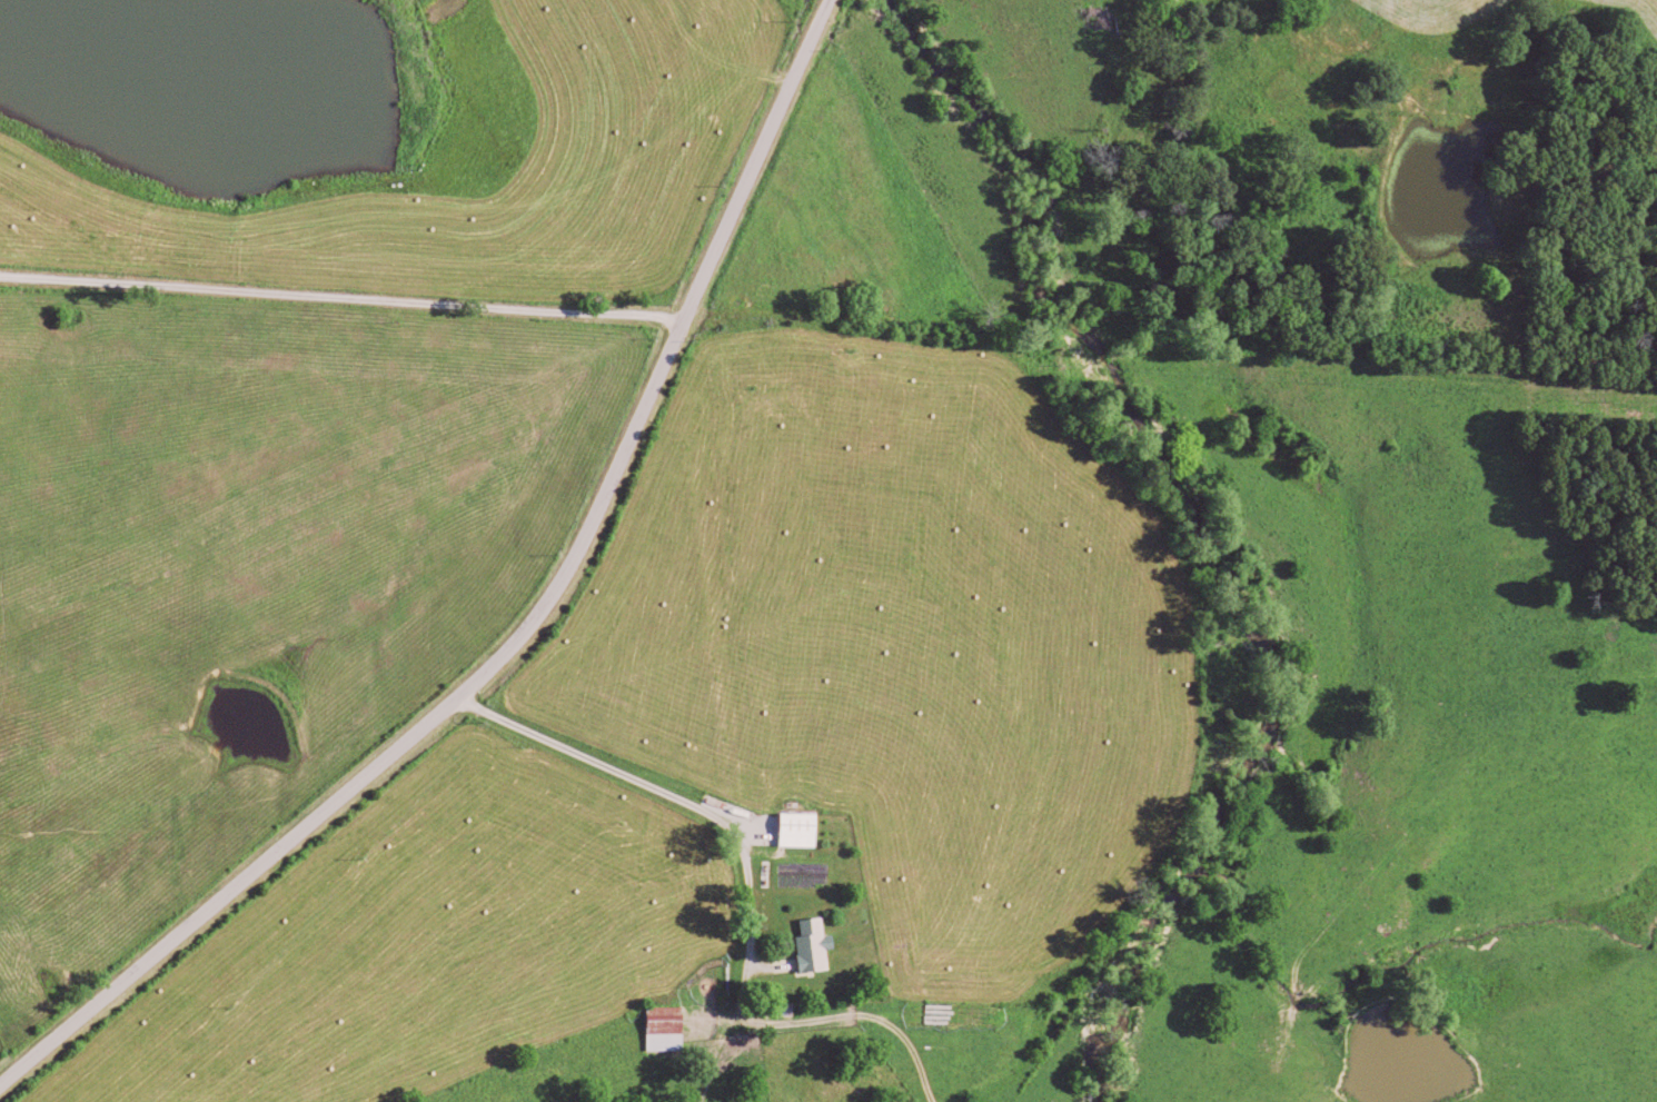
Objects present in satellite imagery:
road: (340, 297)
road: (527, 626)
road: (721, 823)
building: (804, 828)
building: (818, 945)
building: (669, 1027)

